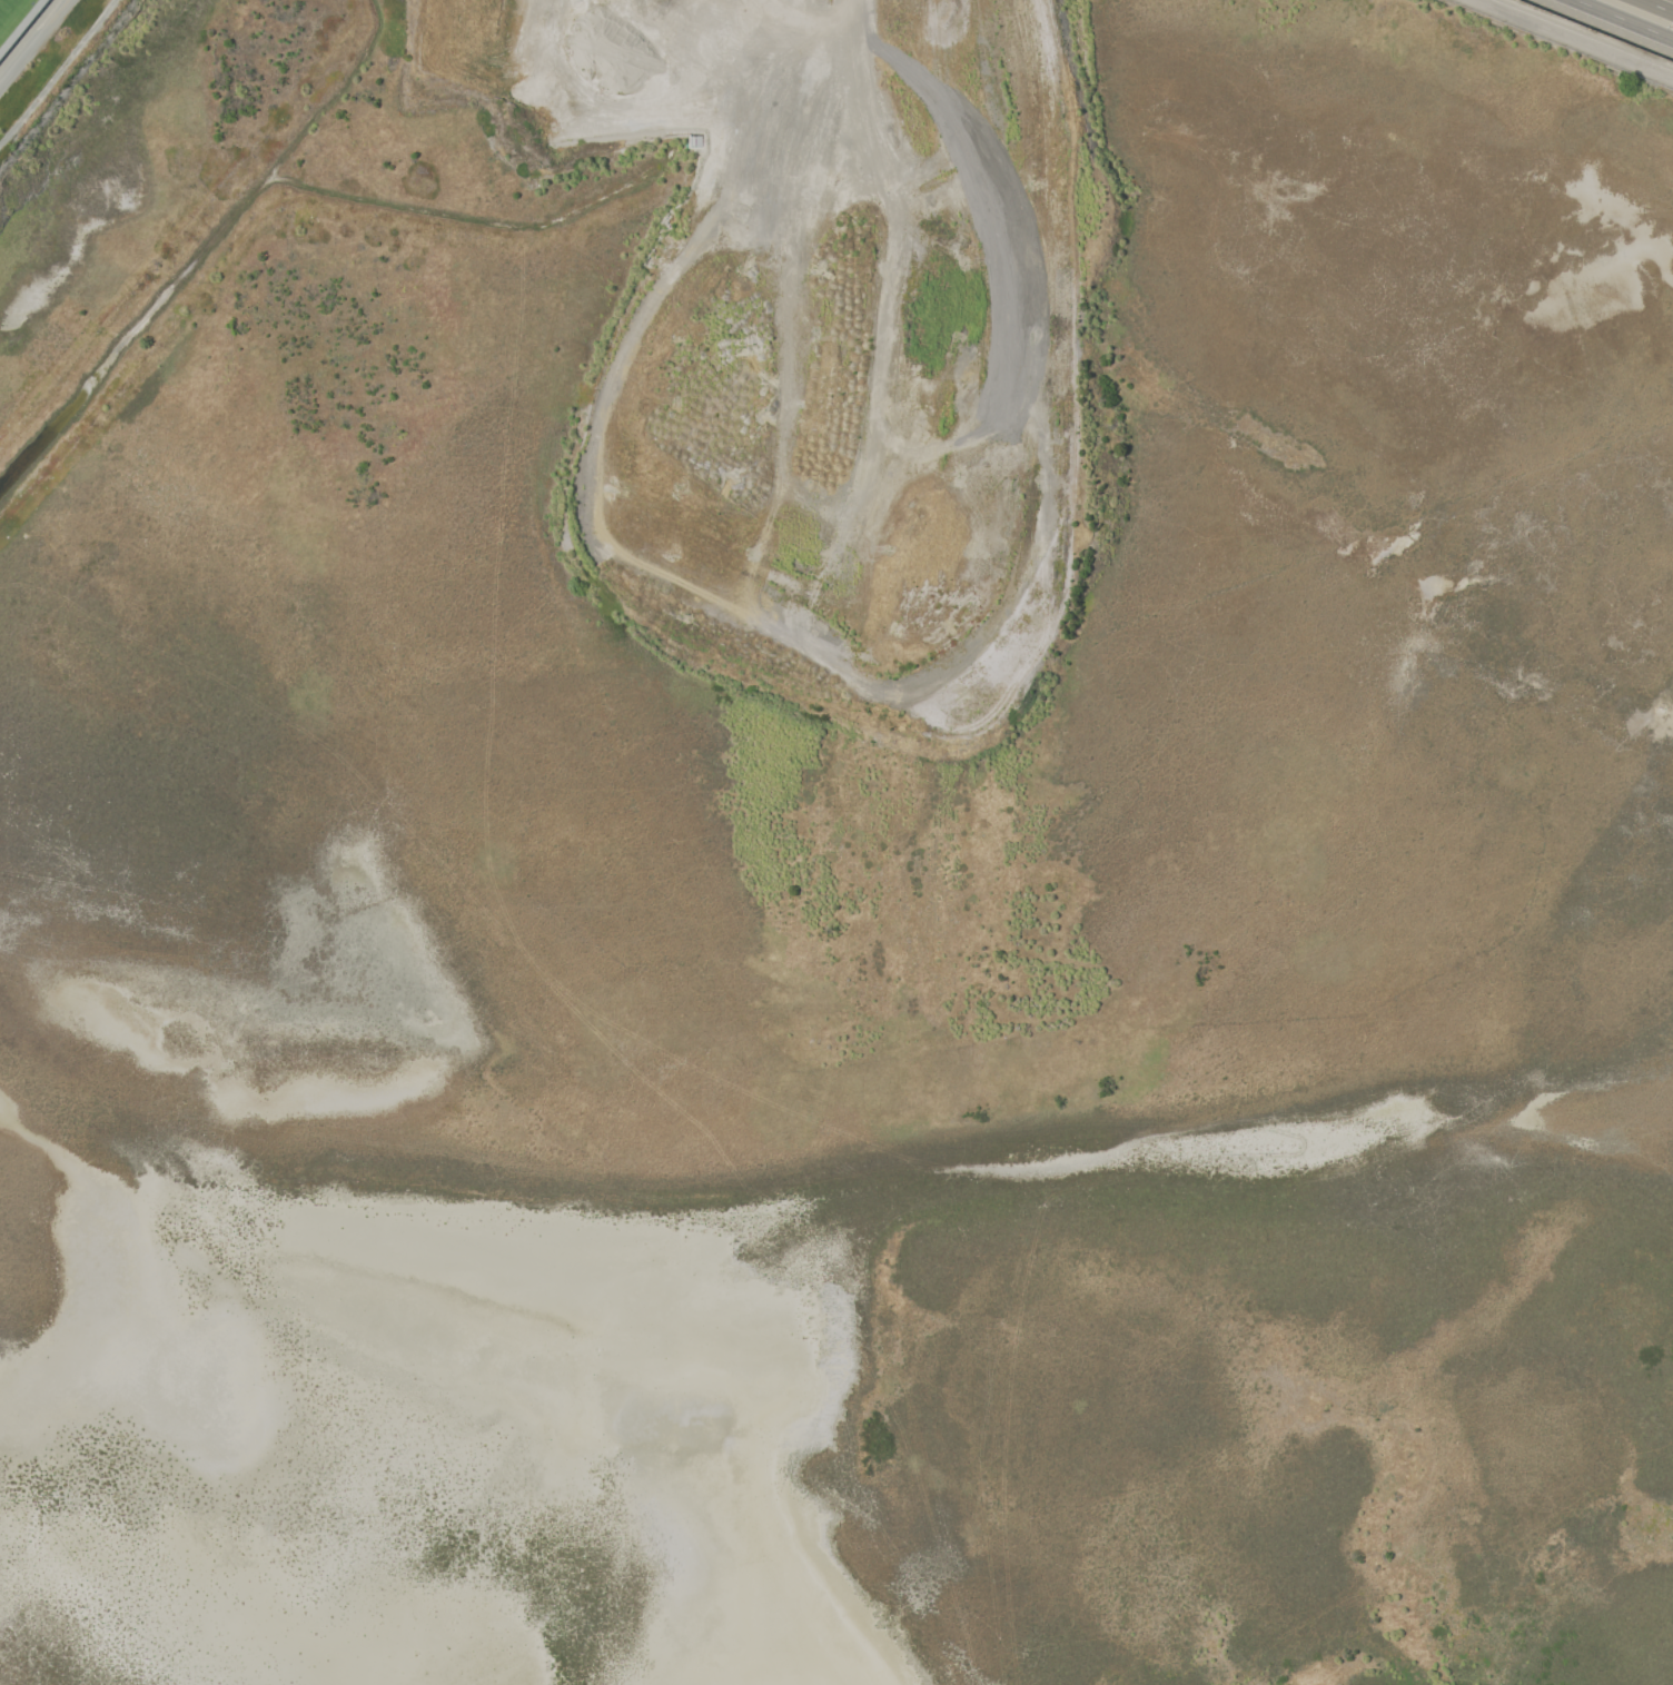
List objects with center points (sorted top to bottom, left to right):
road: (1657, 6)
park: (7, 8)
road: (1618, 21)
road: (1603, 28)
airport: (836, 842)

